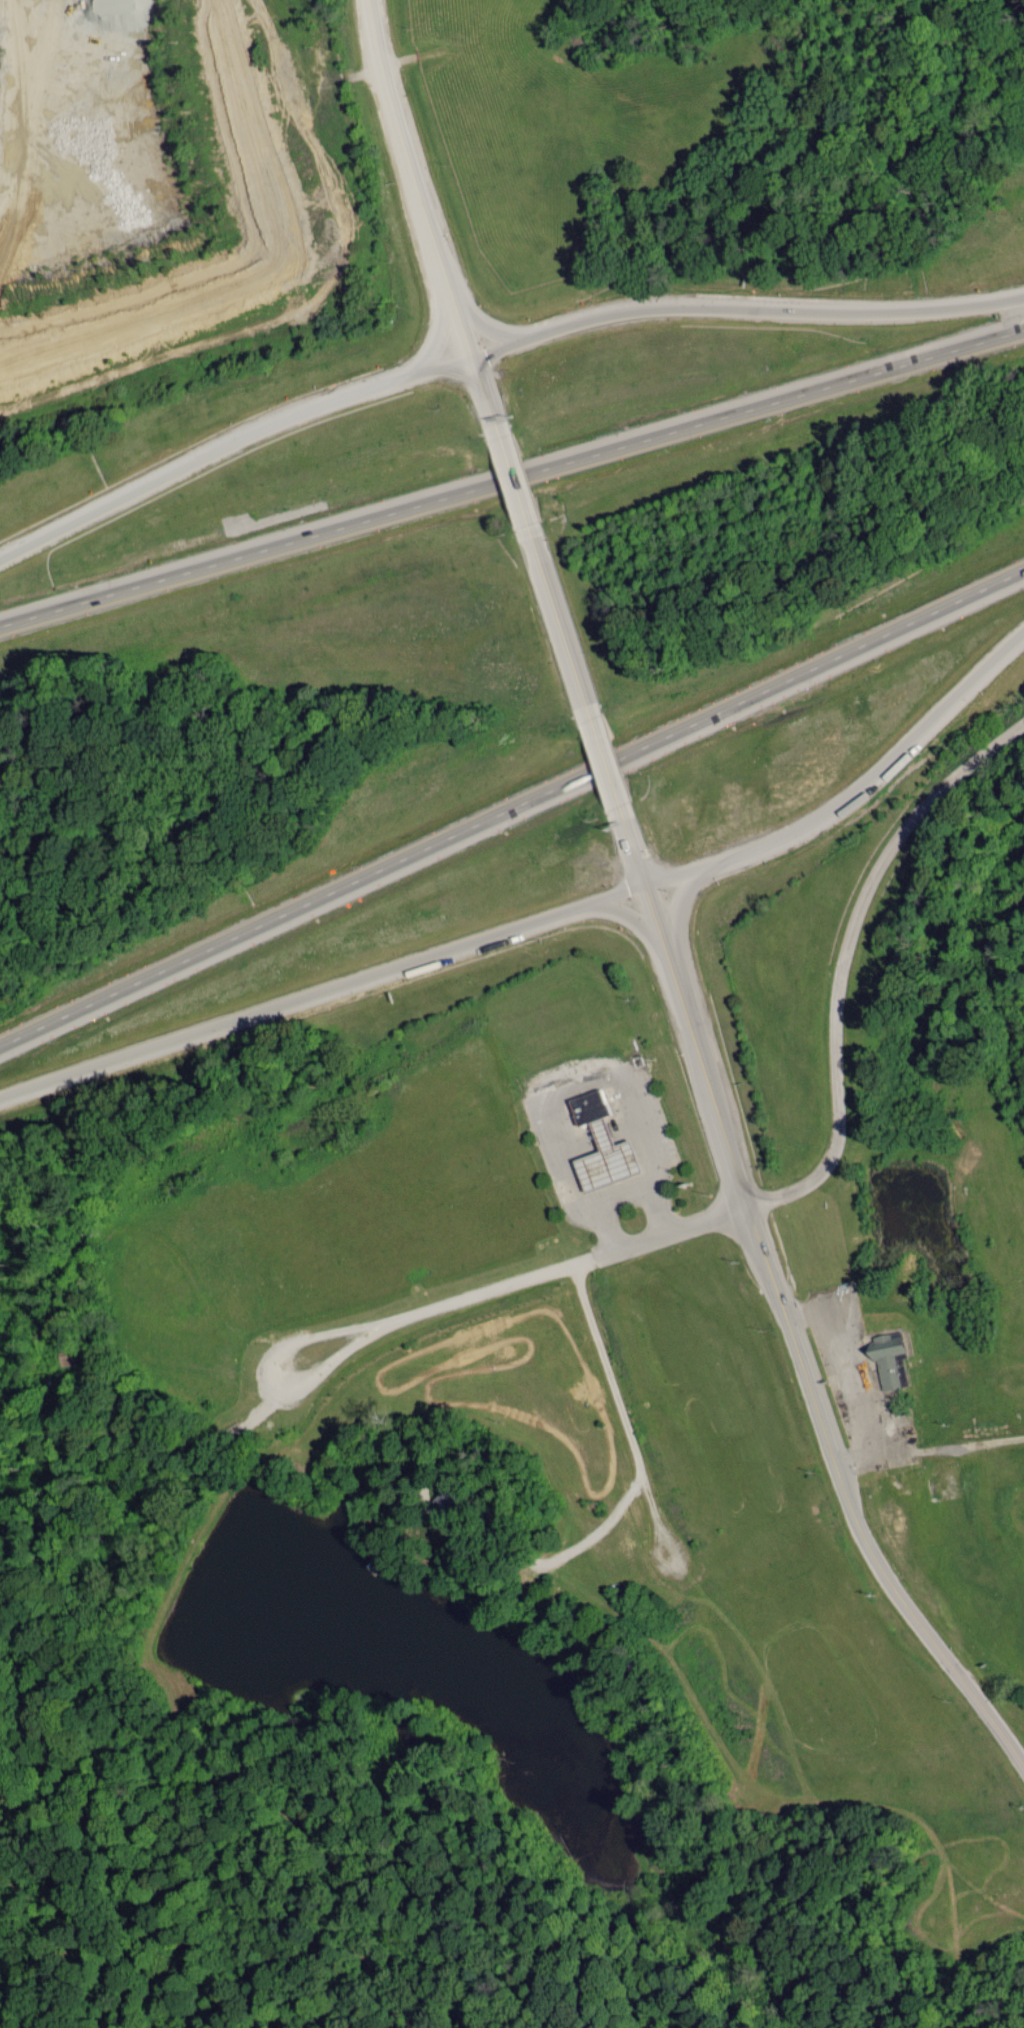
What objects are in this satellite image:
road: (424, 203)
road: (744, 301)
road: (228, 438)
road: (511, 463)
road: (511, 477)
road: (562, 620)
road: (614, 780)
road: (514, 813)
road: (748, 855)
road: (848, 958)
road: (204, 1035)
building: (594, 1107)
road: (636, 1183)
road: (488, 1291)
road: (784, 1326)
building: (894, 1358)

